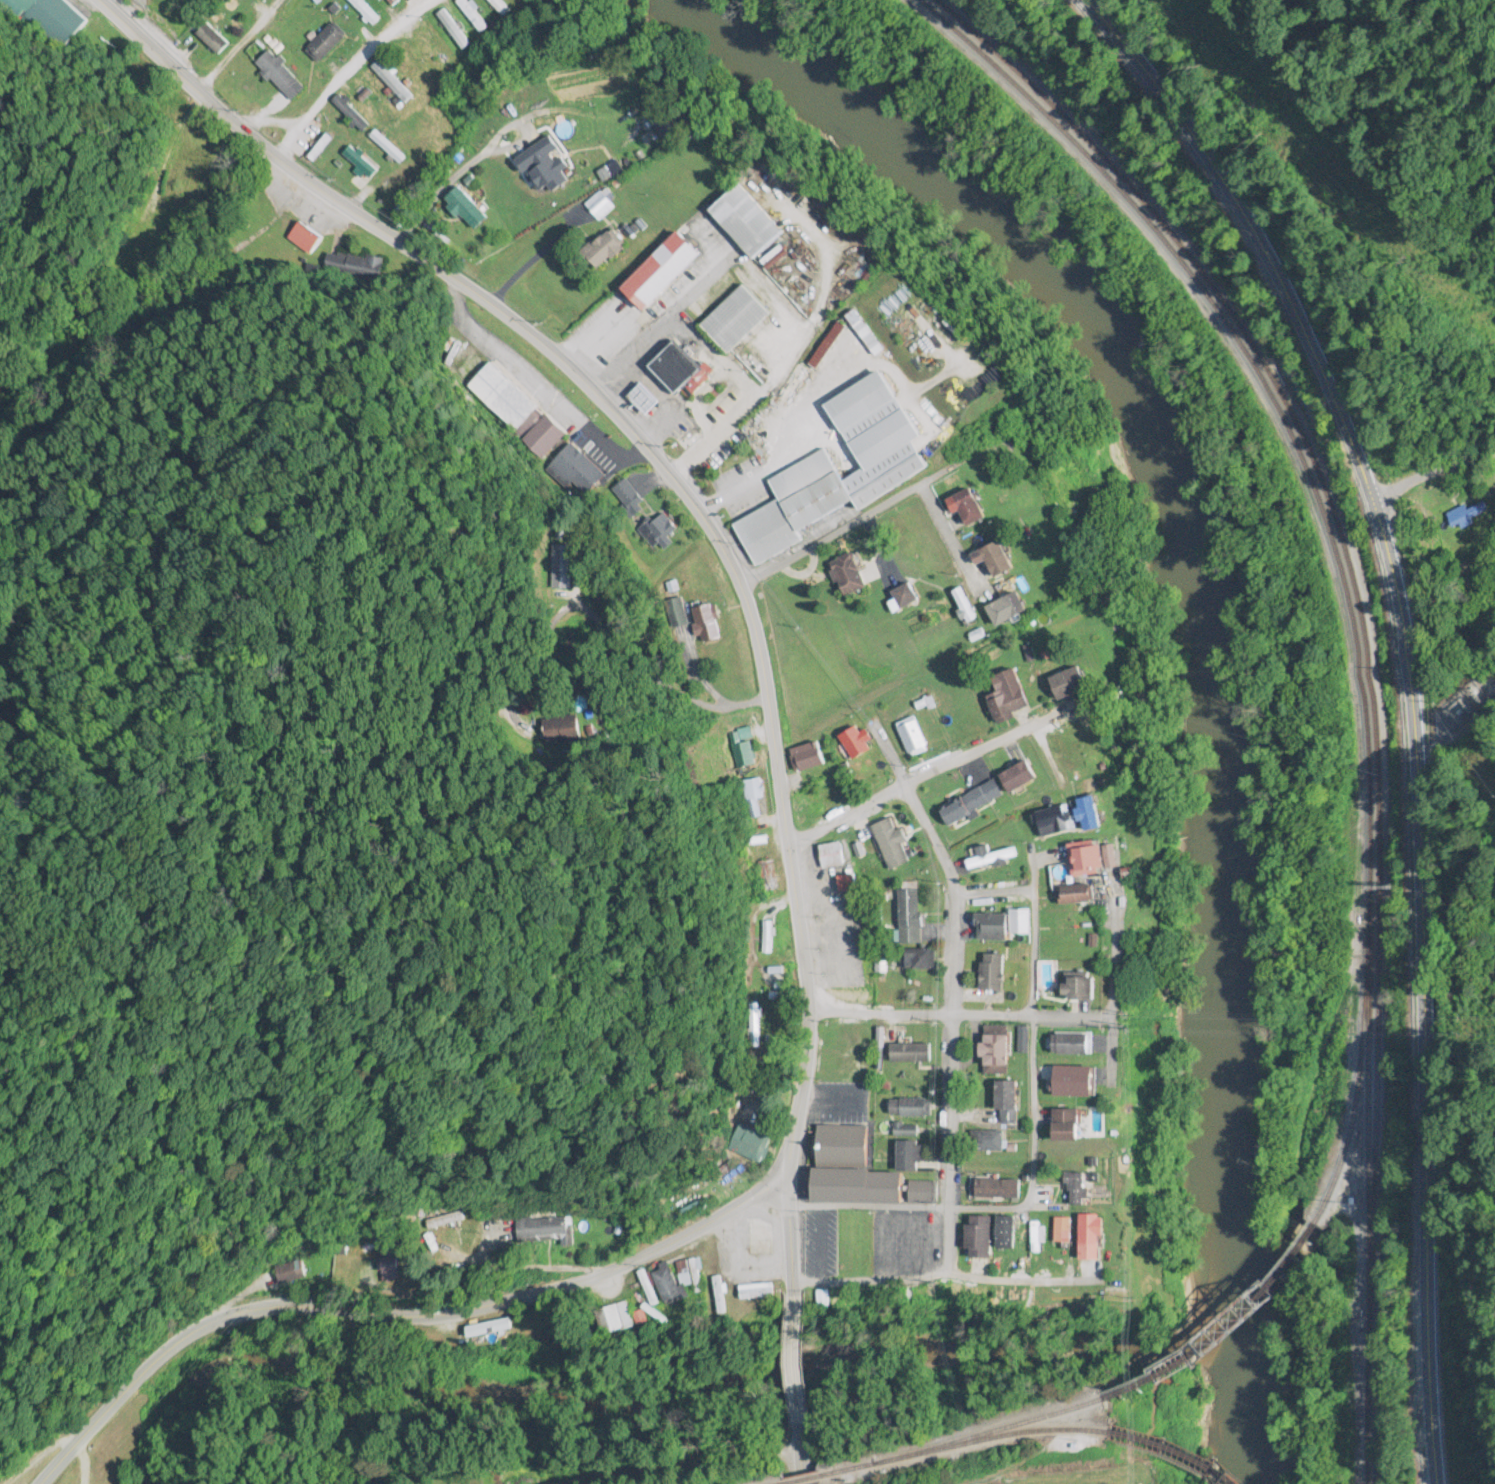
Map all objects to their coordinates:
building: (393, 3)
building: (500, 7)
road: (122, 8)
building: (233, 12)
building: (364, 12)
building: (298, 13)
building: (473, 16)
building: (453, 31)
building: (212, 36)
building: (324, 45)
building: (432, 49)
road: (268, 55)
building: (280, 76)
road: (347, 82)
building: (391, 83)
building: (370, 102)
building: (351, 114)
building: (412, 118)
road: (495, 142)
building: (387, 148)
building: (360, 163)
building: (545, 165)
road: (386, 183)
road: (438, 197)
building: (600, 207)
building: (467, 209)
building: (748, 223)
building: (162, 233)
building: (304, 239)
building: (604, 251)
road: (529, 266)
building: (663, 271)
building: (737, 320)
building: (828, 346)
building: (682, 371)
building: (502, 398)
building: (893, 461)
road: (1444, 472)
building: (971, 508)
building: (1469, 518)
road: (710, 530)
building: (659, 532)
road: (831, 535)
road: (954, 544)
building: (996, 560)
building: (850, 576)
building: (907, 598)
building: (966, 609)
building: (1009, 611)
building: (707, 624)
river: (1207, 645)
railway: (1358, 660)
building: (1072, 685)
road: (1410, 695)
building: (1009, 698)
road: (732, 701)
building: (913, 739)
building: (856, 744)
road: (981, 751)
building: (809, 759)
road: (895, 767)
building: (1020, 778)
building: (986, 796)
building: (824, 800)
building: (958, 813)
road: (847, 815)
building: (1091, 816)
building: (1054, 823)
building: (898, 856)
building: (833, 857)
building: (990, 858)
building: (1090, 860)
building: (847, 885)
building: (1078, 896)
building: (910, 914)
building: (994, 929)
building: (1067, 929)
building: (768, 938)
building: (921, 961)
building: (994, 974)
building: (1083, 989)
road: (926, 1015)
road: (952, 1025)
road: (1031, 1036)
building: (1072, 1046)
building: (997, 1051)
building: (1076, 1083)
railway: (1355, 1104)
building: (1008, 1105)
building: (909, 1109)
building: (1068, 1127)
building: (906, 1132)
building: (990, 1142)
building: (752, 1145)
building: (843, 1147)
building: (910, 1158)
building: (861, 1188)
building: (998, 1191)
building: (1079, 1191)
building: (925, 1194)
road: (907, 1208)
building: (675, 1214)
building: (446, 1222)
building: (546, 1232)
building: (1063, 1233)
building: (1007, 1235)
building: (981, 1239)
building: (1038, 1239)
building: (1093, 1239)
building: (389, 1272)
building: (292, 1274)
building: (688, 1274)
road: (880, 1281)
building: (667, 1287)
building: (757, 1293)
building: (719, 1297)
road: (396, 1316)
building: (615, 1321)
railway: (1229, 1337)
road: (796, 1368)
railway: (989, 1433)
railway: (990, 1440)
road: (801, 1444)
railway: (1176, 1452)
railway: (849, 1472)
railway: (810, 1481)

